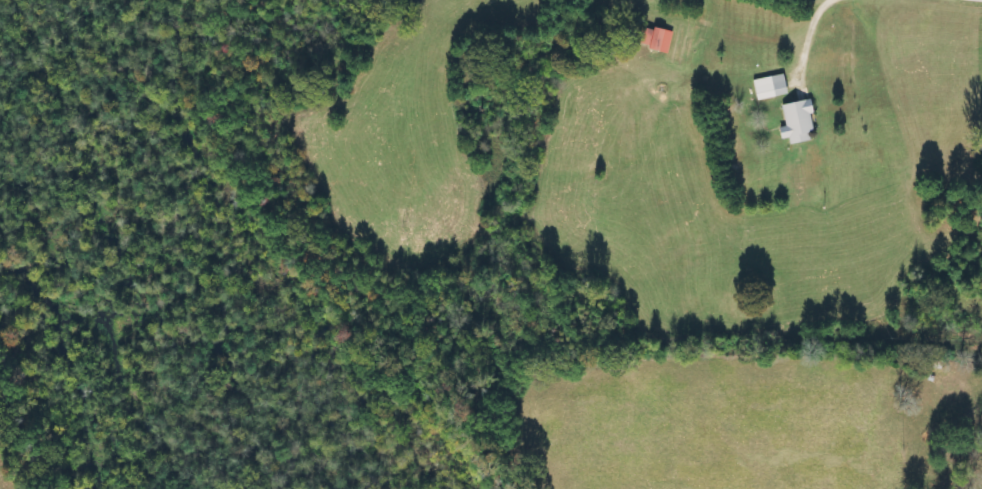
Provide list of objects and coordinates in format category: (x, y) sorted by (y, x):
building: (664, 40)
building: (774, 87)
building: (801, 121)

